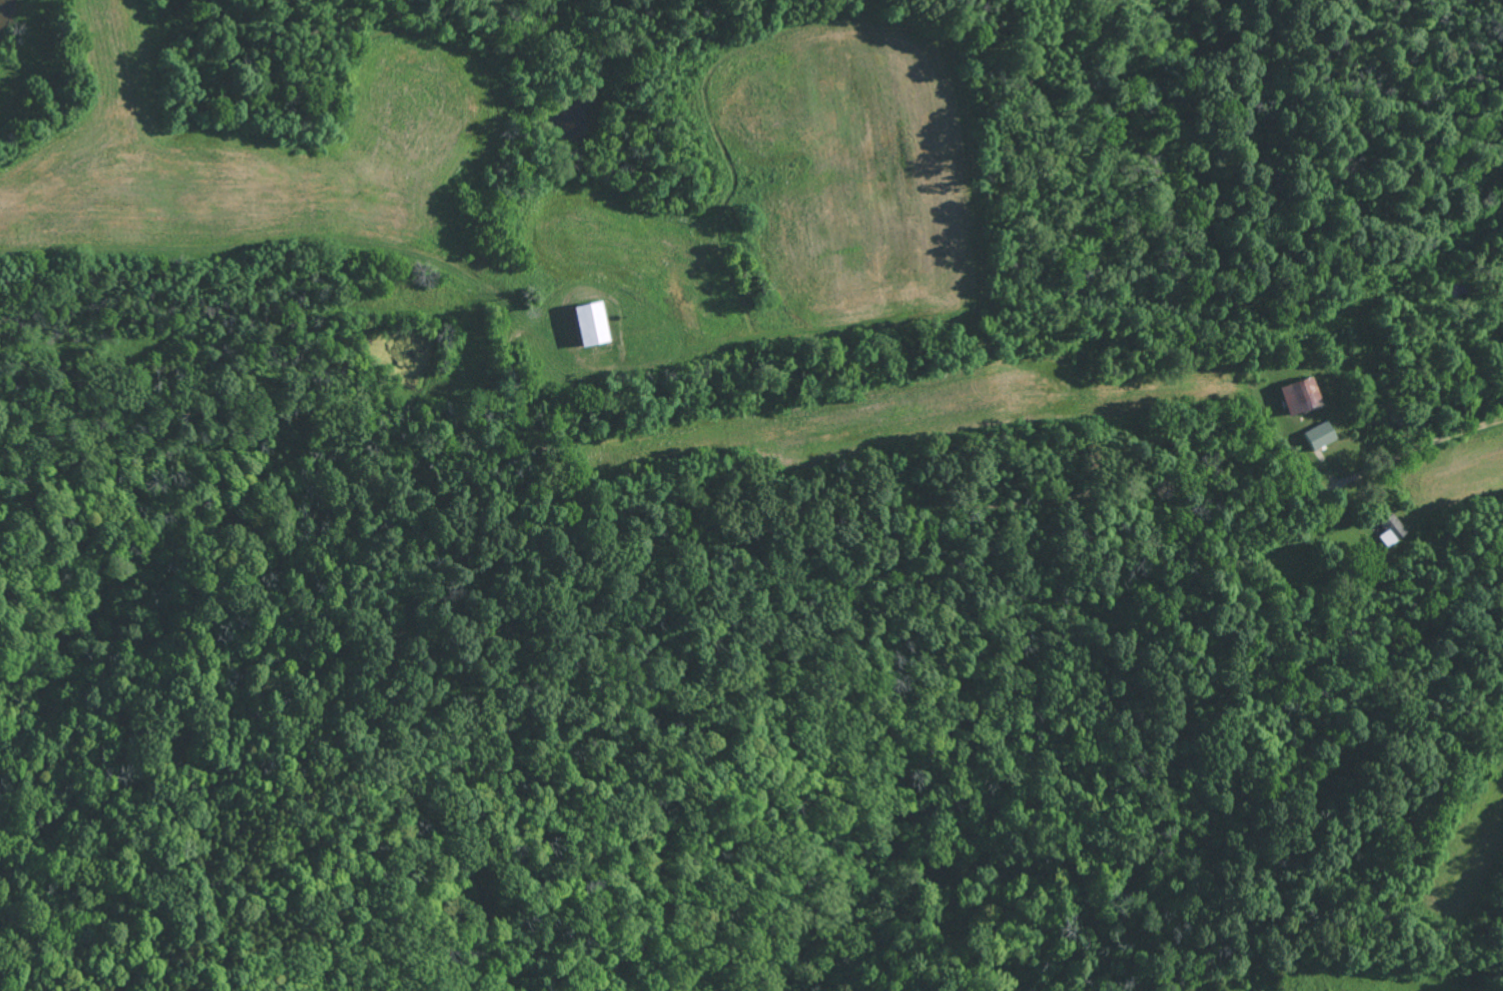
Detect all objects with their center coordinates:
building: (589, 323)
building: (1300, 396)
building: (1319, 435)
road: (1439, 439)

